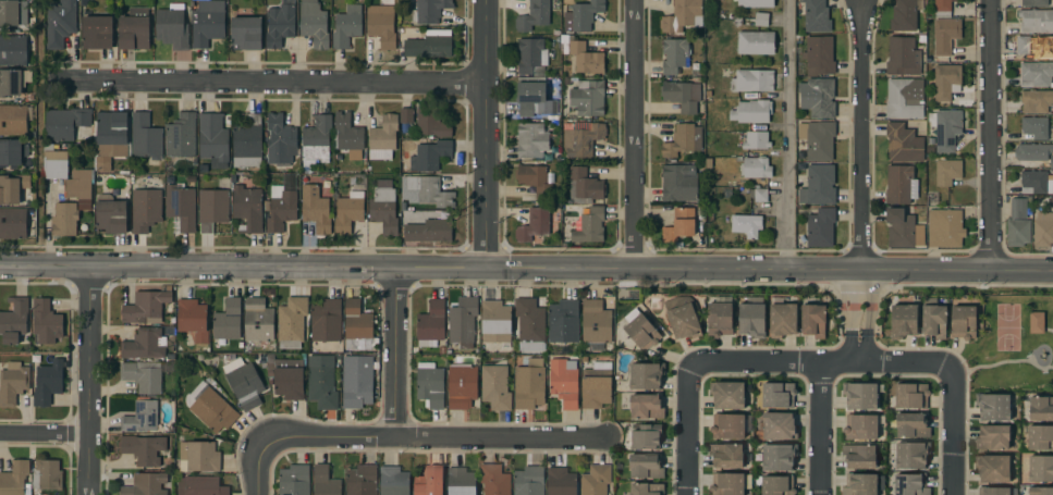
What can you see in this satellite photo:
building: (1034, 2)
building: (756, 3)
building: (942, 9)
building: (429, 11)
building: (12, 12)
building: (534, 15)
building: (904, 15)
building: (581, 16)
building: (683, 16)
building: (812, 16)
building: (754, 20)
building: (1036, 21)
building: (207, 22)
building: (60, 23)
building: (280, 24)
building: (314, 24)
building: (381, 24)
building: (346, 26)
building: (172, 27)
building: (134, 29)
building: (97, 33)
building: (555, 33)
building: (246, 34)
building: (943, 40)
building: (756, 42)
building: (429, 44)
building: (1036, 47)
building: (13, 50)
building: (581, 55)
building: (674, 55)
building: (819, 55)
building: (531, 57)
building: (903, 57)
building: (1036, 74)
building: (750, 81)
building: (946, 82)
building: (10, 83)
road: (270, 83)
building: (551, 91)
building: (682, 96)
building: (534, 97)
building: (818, 97)
building: (587, 98)
building: (904, 99)
building: (1036, 100)
building: (751, 111)
building: (405, 115)
building: (13, 120)
building: (64, 123)
building: (432, 123)
building: (1034, 127)
building: (945, 128)
road: (37, 133)
road: (485, 133)
building: (112, 134)
road: (633, 134)
road: (786, 135)
road: (860, 135)
road: (992, 135)
building: (181, 136)
building: (145, 137)
building: (347, 137)
building: (382, 138)
building: (581, 138)
building: (212, 139)
building: (280, 139)
building: (818, 139)
building: (316, 140)
building: (531, 140)
building: (683, 140)
building: (756, 140)
building: (246, 143)
building: (903, 143)
building: (12, 152)
building: (1032, 152)
building: (431, 154)
building: (1051, 161)
building: (708, 163)
building: (407, 164)
building: (102, 166)
building: (947, 173)
building: (54, 175)
building: (757, 176)
building: (191, 180)
building: (534, 180)
building: (1034, 182)
building: (678, 183)
building: (899, 184)
building: (818, 185)
building: (584, 186)
building: (12, 188)
building: (429, 191)
building: (1051, 201)
building: (181, 206)
building: (383, 207)
building: (280, 208)
building: (1017, 208)
building: (145, 209)
building: (212, 209)
building: (246, 209)
building: (315, 209)
building: (348, 212)
building: (110, 214)
building: (64, 219)
building: (587, 222)
building: (13, 224)
building: (536, 224)
building: (746, 224)
building: (679, 226)
building: (819, 226)
building: (425, 228)
building: (944, 228)
building: (903, 230)
building: (1043, 230)
building: (1017, 232)
road: (242, 267)
road: (768, 269)
building: (146, 305)
road: (858, 314)
building: (683, 317)
building: (719, 317)
building: (193, 319)
building: (13, 320)
building: (258, 320)
building: (751, 320)
building: (782, 320)
building: (46, 321)
building: (326, 321)
building: (463, 321)
building: (495, 321)
building: (812, 321)
building: (903, 321)
building: (933, 321)
building: (226, 322)
building: (291, 322)
building: (563, 322)
building: (596, 322)
building: (963, 322)
building: (1036, 323)
building: (430, 324)
building: (529, 324)
building: (356, 326)
building: (640, 330)
building: (144, 344)
road: (394, 352)
road: (816, 361)
building: (143, 375)
building: (646, 375)
building: (285, 376)
road: (88, 380)
building: (48, 381)
building: (356, 381)
building: (12, 382)
building: (321, 382)
building: (564, 382)
building: (244, 383)
building: (430, 384)
building: (529, 384)
building: (596, 385)
building: (461, 386)
building: (495, 387)
building: (727, 395)
building: (777, 395)
building: (860, 395)
building: (910, 396)
building: (993, 406)
building: (646, 407)
building: (1041, 408)
building: (212, 409)
building: (140, 417)
building: (727, 425)
building: (779, 425)
building: (861, 425)
building: (911, 425)
road: (950, 426)
road: (819, 428)
road: (685, 429)
road: (44, 432)
building: (646, 436)
building: (992, 437)
building: (1040, 437)
road: (431, 438)
building: (143, 448)
building: (908, 454)
building: (726, 455)
building: (198, 456)
building: (779, 456)
building: (858, 456)
building: (645, 466)
building: (992, 468)
building: (1040, 468)
road: (259, 471)
building: (47, 474)
building: (14, 479)
building: (294, 480)
building: (362, 480)
building: (493, 480)
building: (596, 480)
building: (325, 481)
building: (393, 481)
building: (528, 481)
building: (429, 482)
building: (461, 482)
building: (561, 482)
building: (730, 483)
building: (145, 484)
building: (862, 484)
building: (910, 484)
building: (775, 485)
building: (200, 486)
building: (646, 488)
building: (996, 491)
building: (1040, 491)

